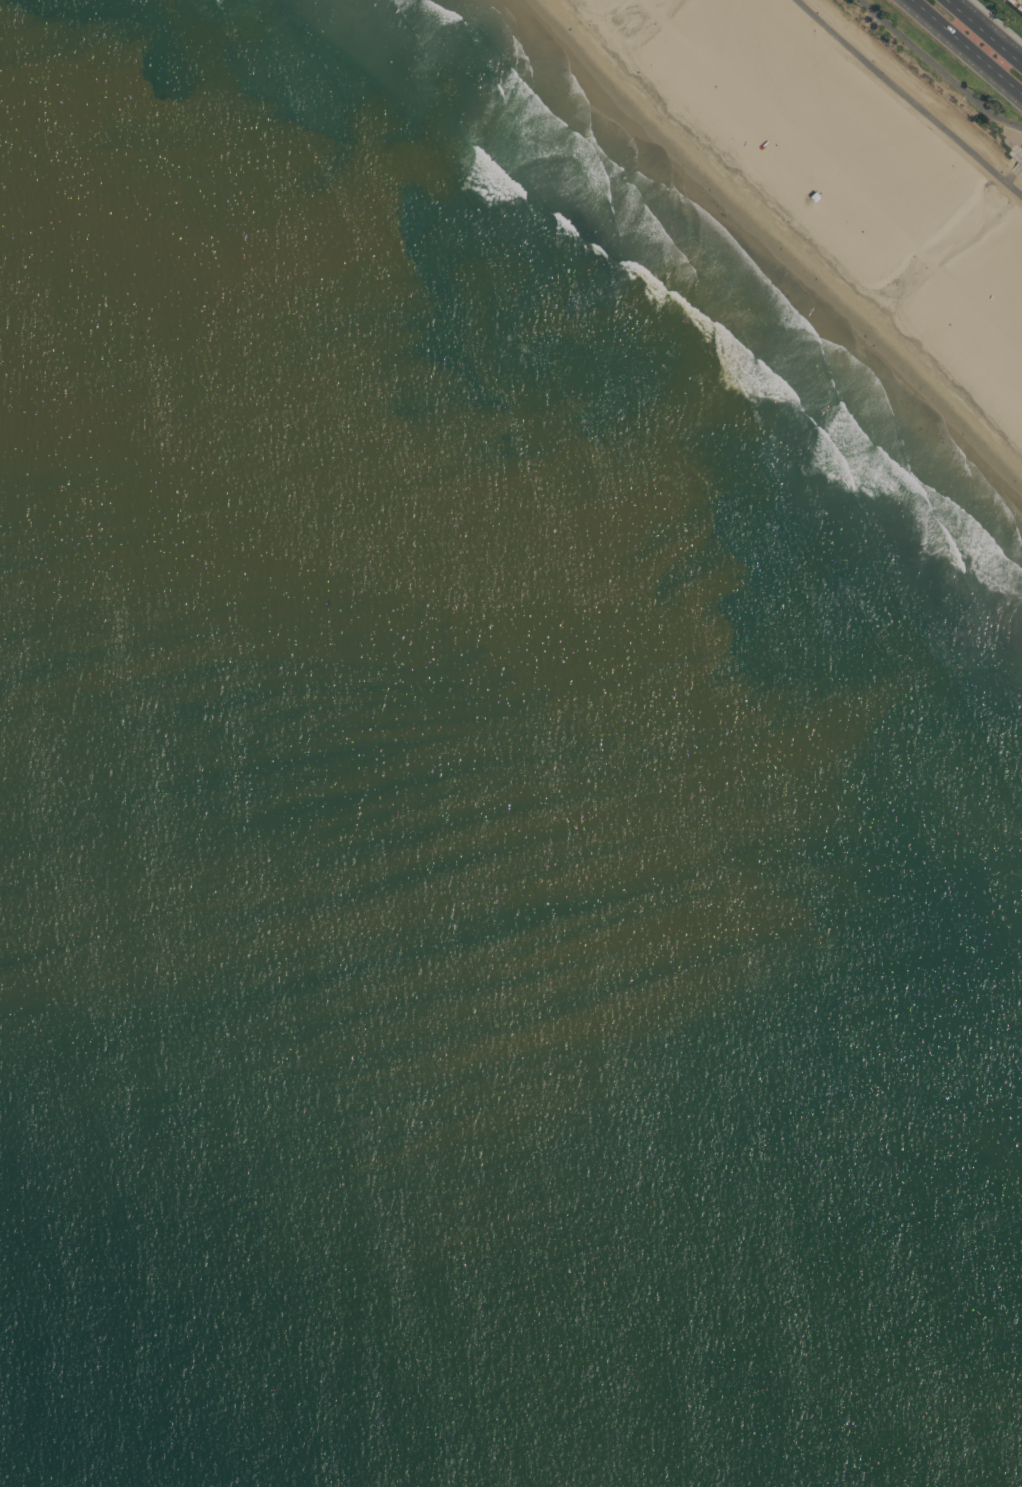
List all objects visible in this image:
building: (1021, 13)
road: (991, 25)
road: (967, 46)
road: (939, 66)
road: (910, 98)
building: (850, 164)

